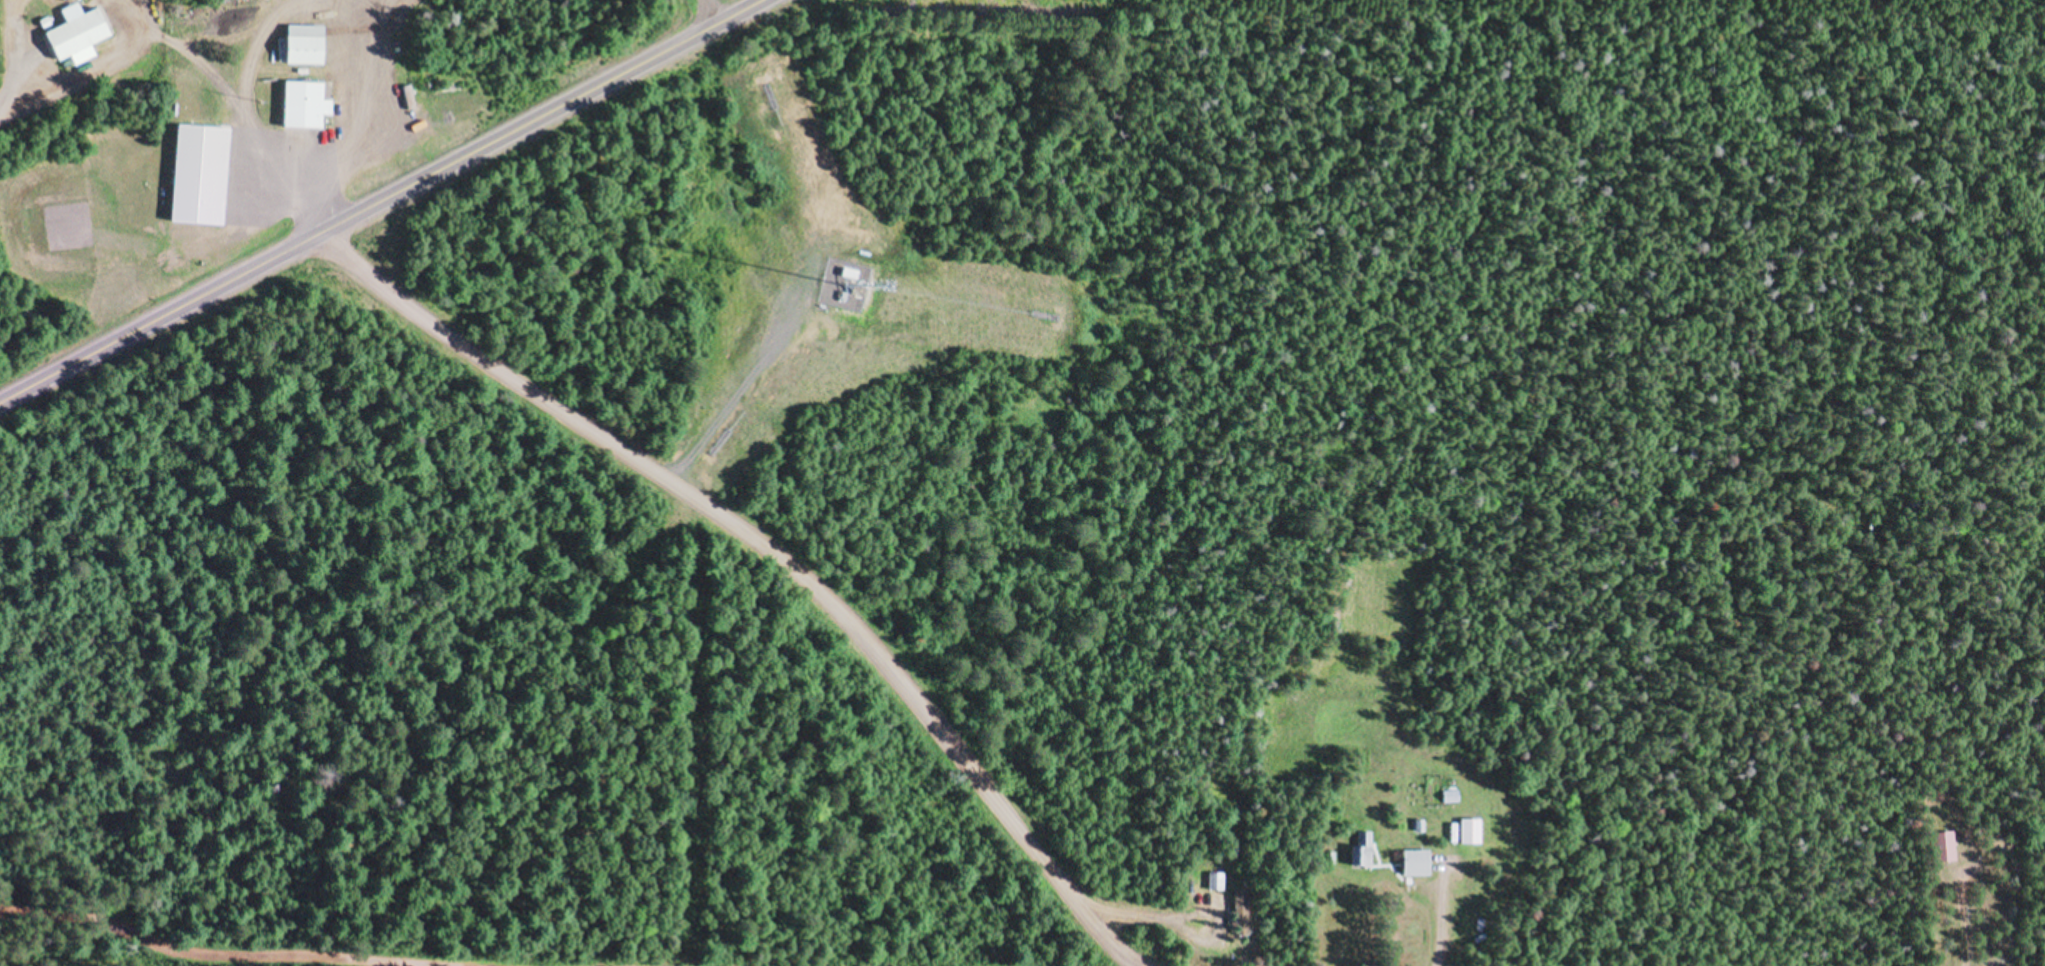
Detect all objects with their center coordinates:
building: (77, 36)
building: (306, 44)
road: (20, 51)
road: (89, 66)
building: (305, 105)
road: (245, 111)
building: (195, 172)
road: (376, 197)
park: (200, 368)
road: (729, 397)
road: (773, 544)
building: (1470, 833)
building: (1945, 849)
building: (1363, 854)
building: (1219, 884)
road: (254, 958)

